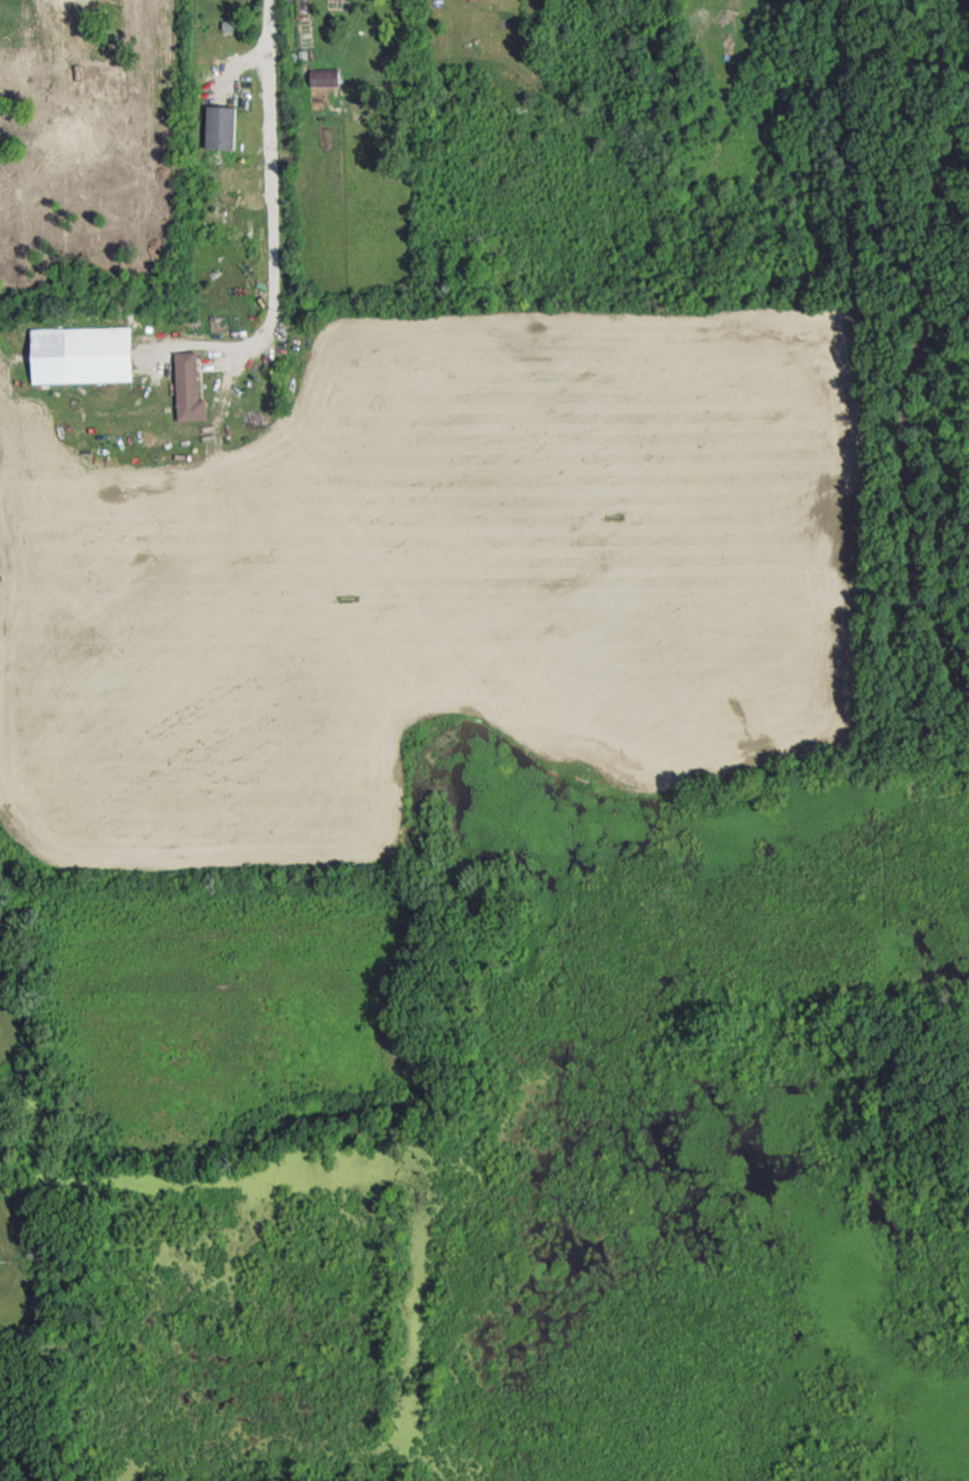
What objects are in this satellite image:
building: (324, 76)
building: (220, 126)
road: (269, 177)
building: (82, 353)
building: (188, 387)
crop: (453, 577)
park: (440, 1173)

